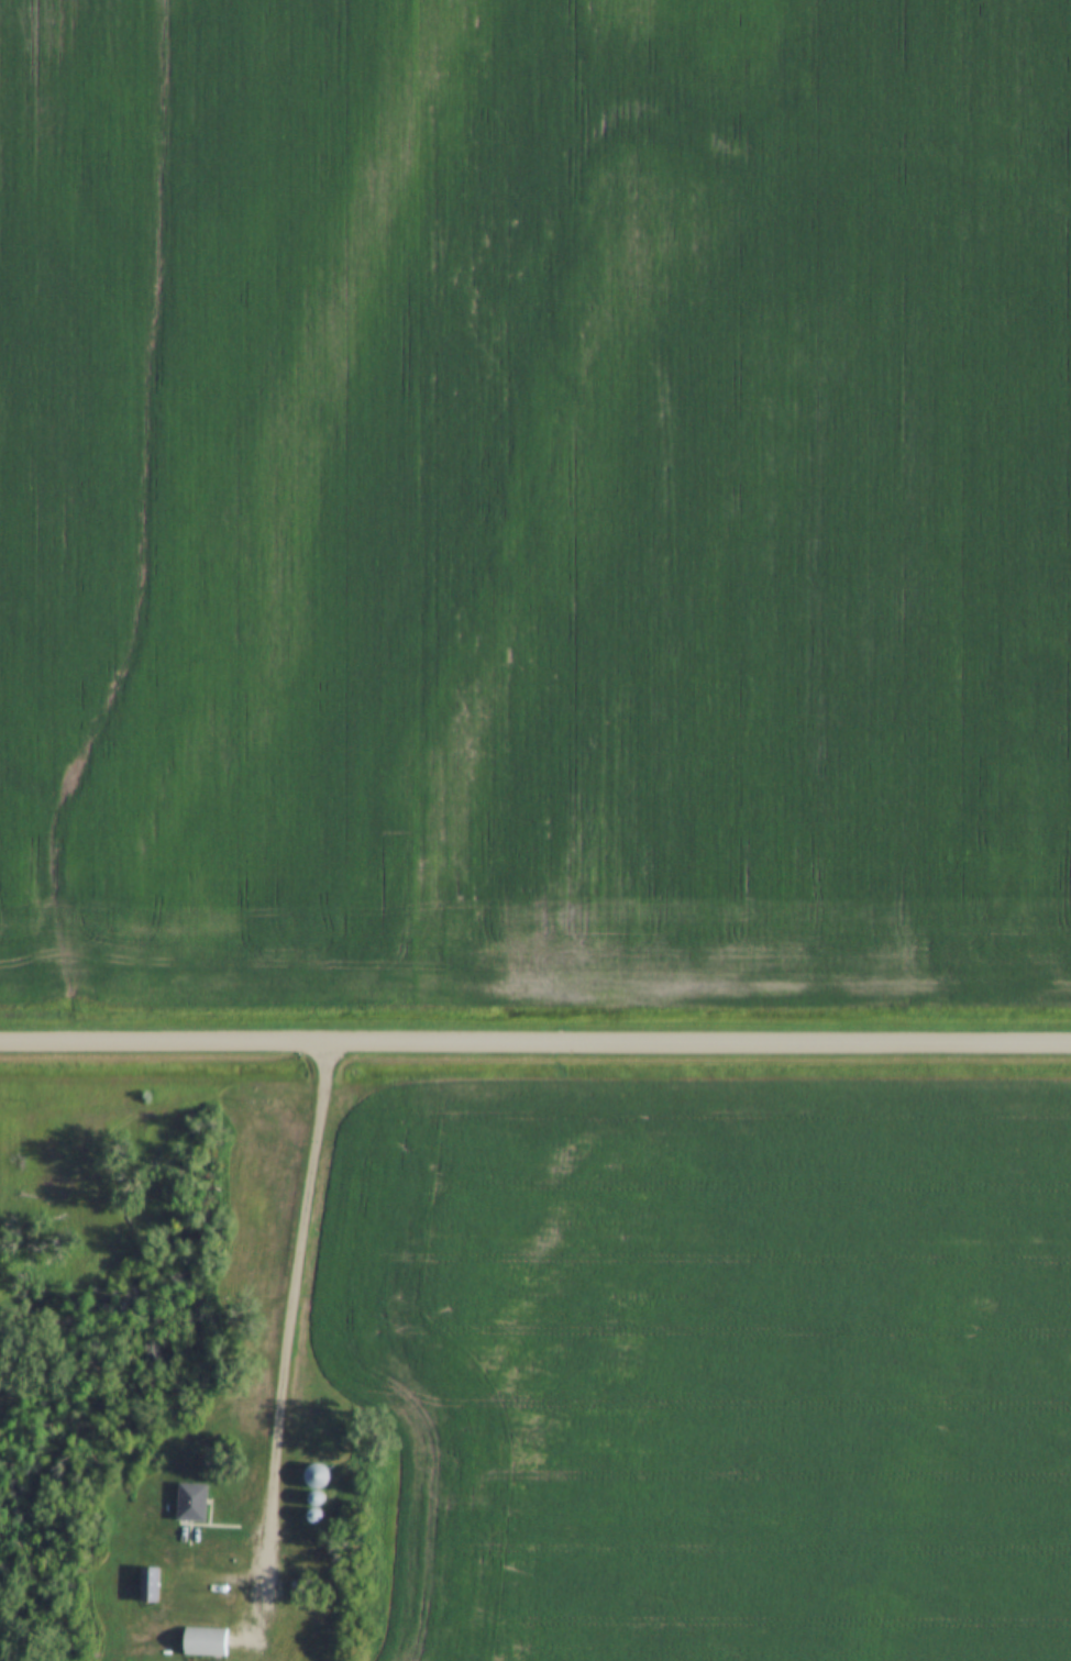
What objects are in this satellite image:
road: (534, 1048)
road: (288, 1344)
building: (318, 1477)
building: (190, 1503)

